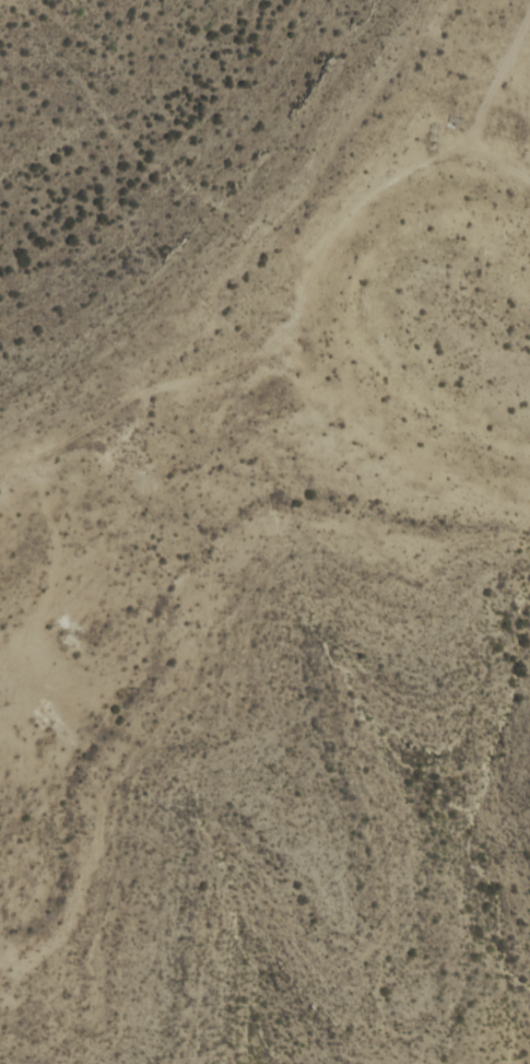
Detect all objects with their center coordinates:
road: (496, 163)
road: (249, 363)
road: (20, 466)
park: (9, 619)

